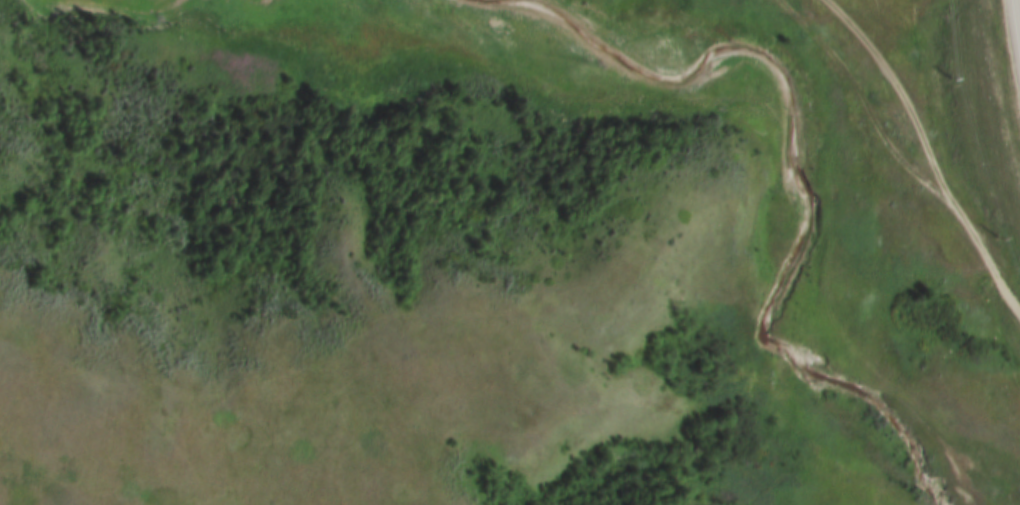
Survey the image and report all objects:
road: (1018, 9)
road: (889, 152)

